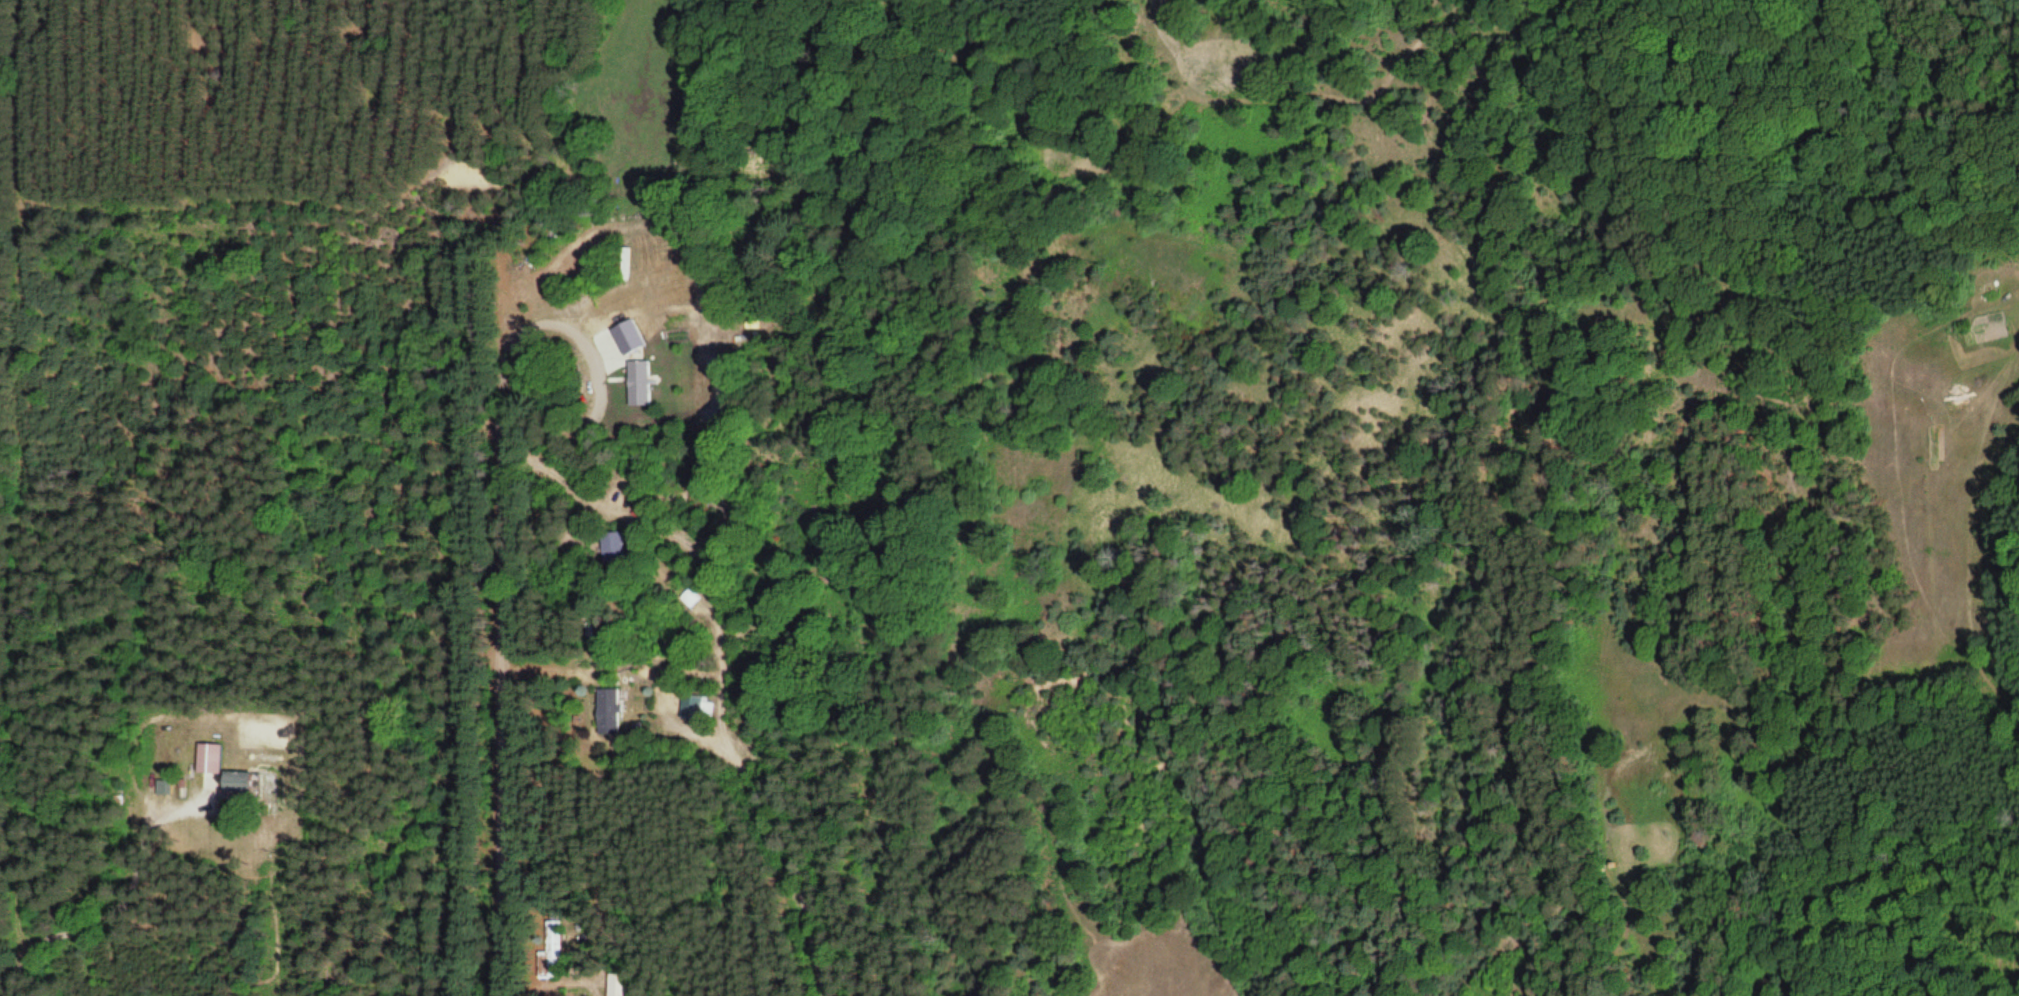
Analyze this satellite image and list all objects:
building: (638, 378)
building: (612, 548)
building: (689, 706)
building: (606, 707)
road: (496, 729)
building: (207, 758)
building: (234, 783)
road: (125, 900)
building: (550, 952)
building: (616, 984)

